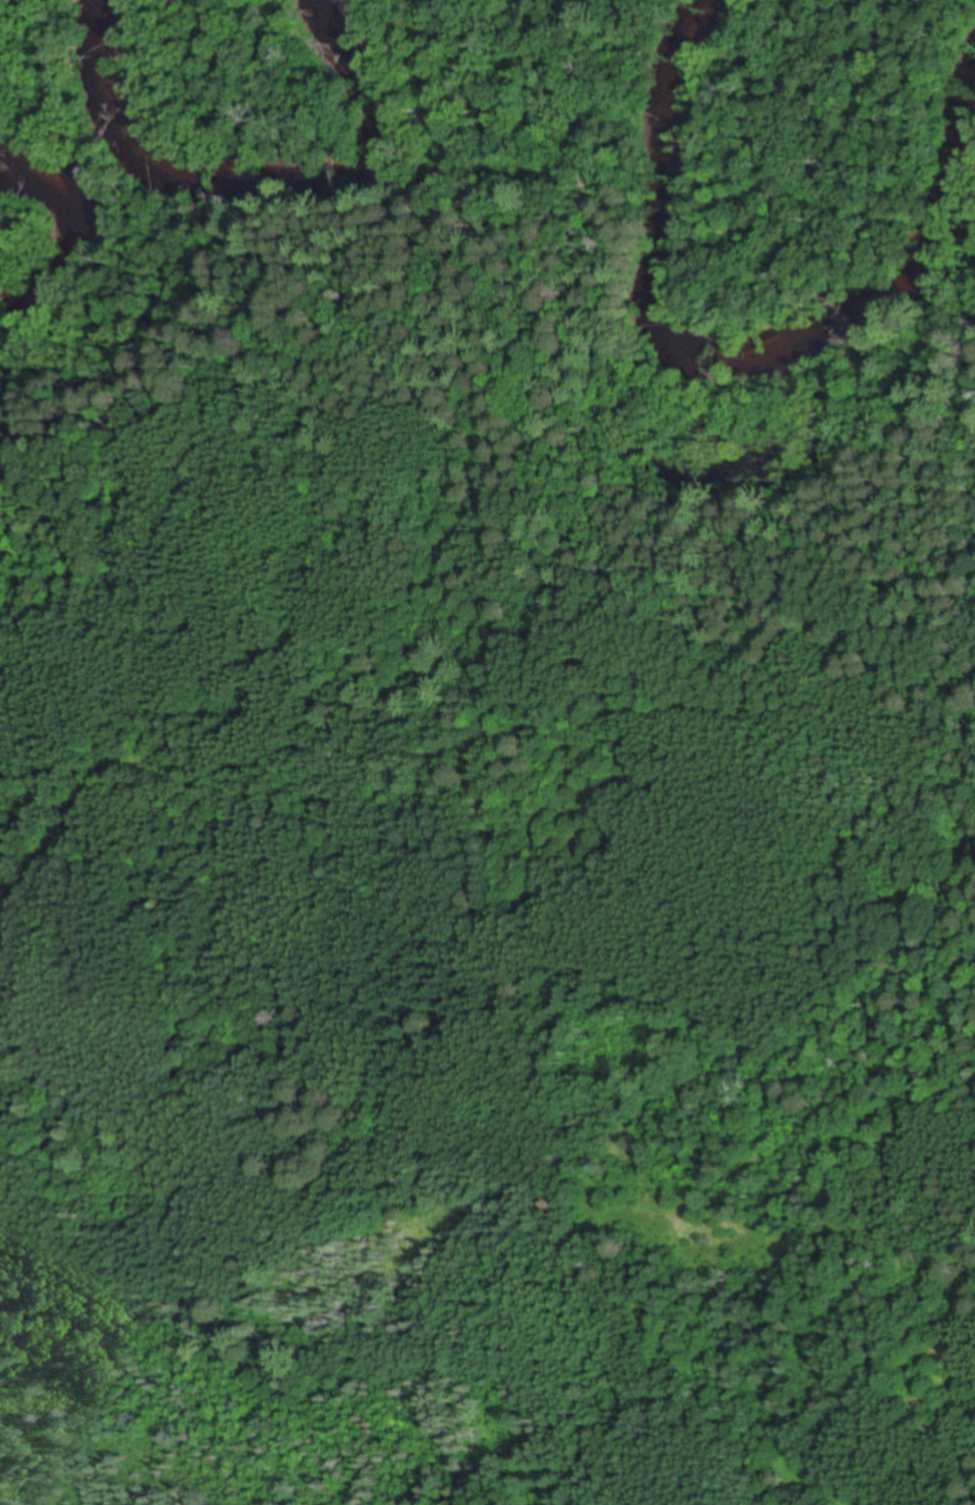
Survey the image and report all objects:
river: (266, 184)
river: (75, 220)
river: (720, 350)

